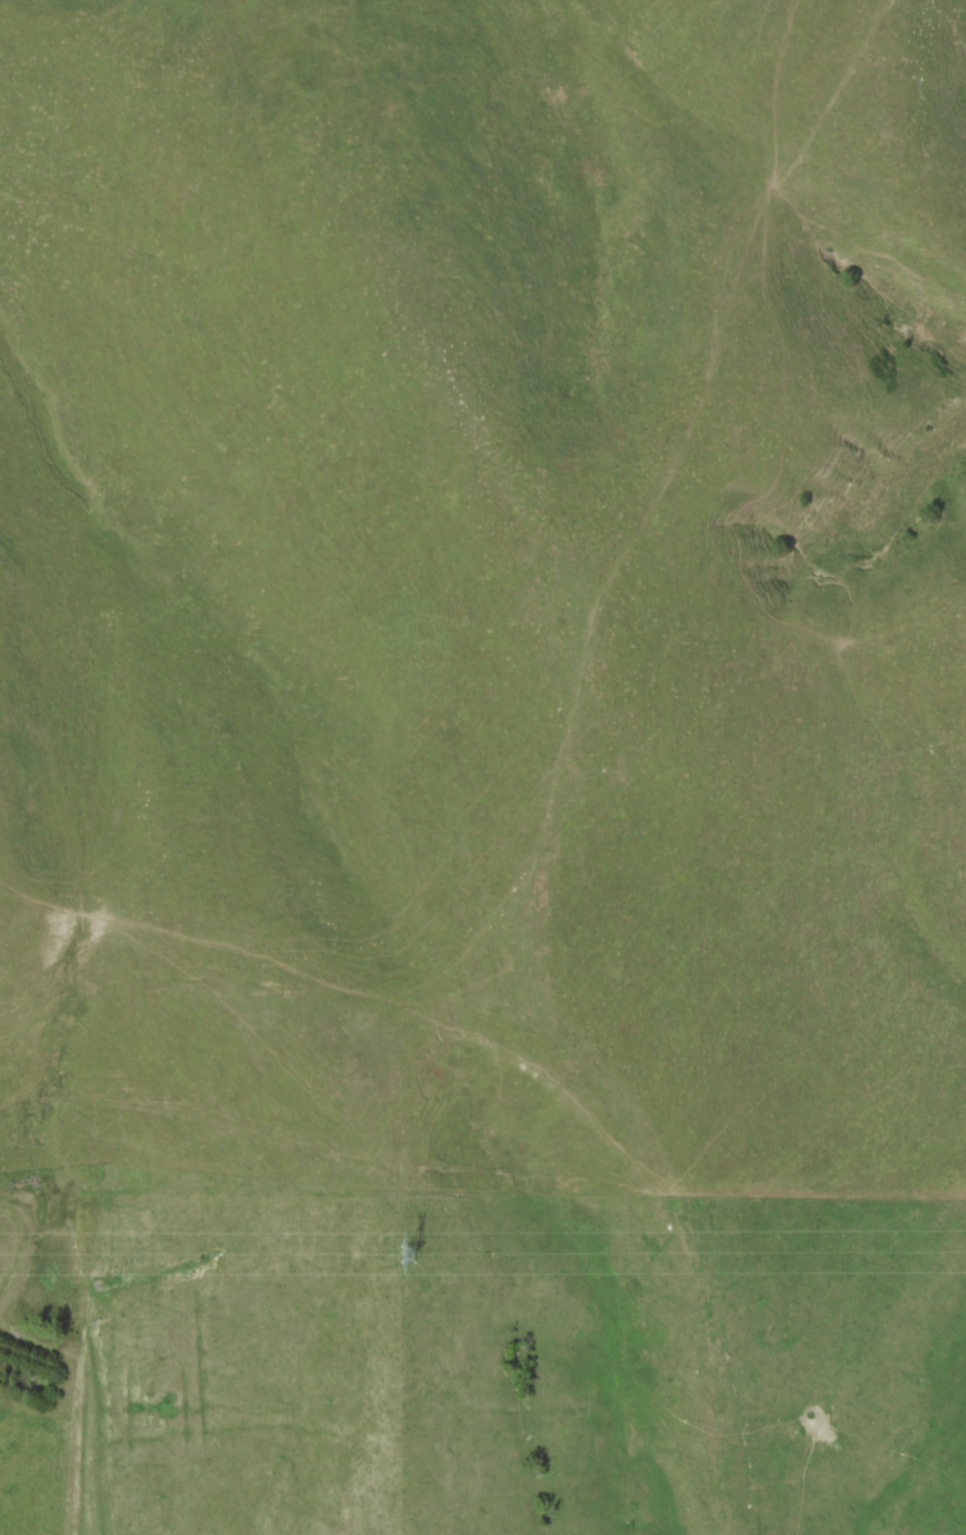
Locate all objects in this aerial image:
power tower: (406, 1254)

